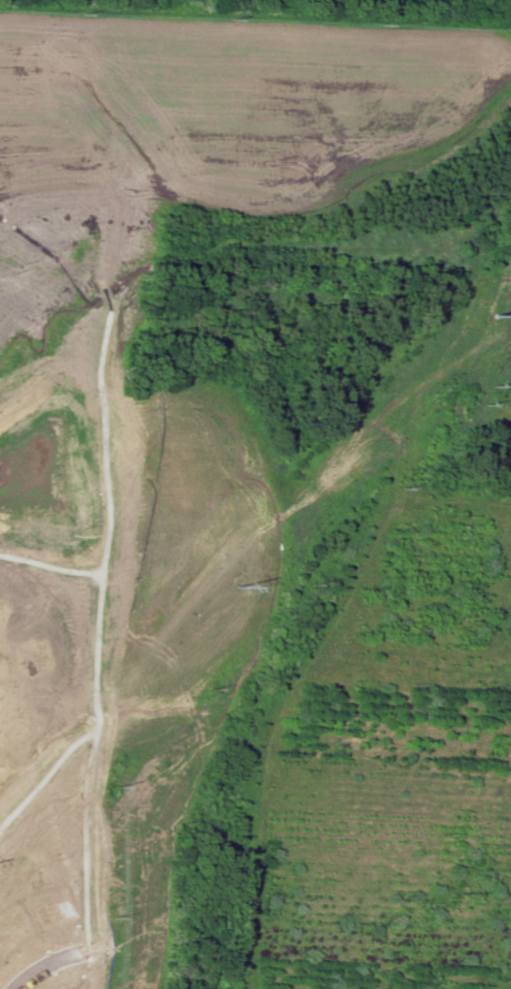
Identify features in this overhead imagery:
power tower: (497, 316)
road: (107, 523)
road: (49, 566)
power tower: (233, 584)
road: (414, 735)
road: (90, 764)
road: (40, 967)

